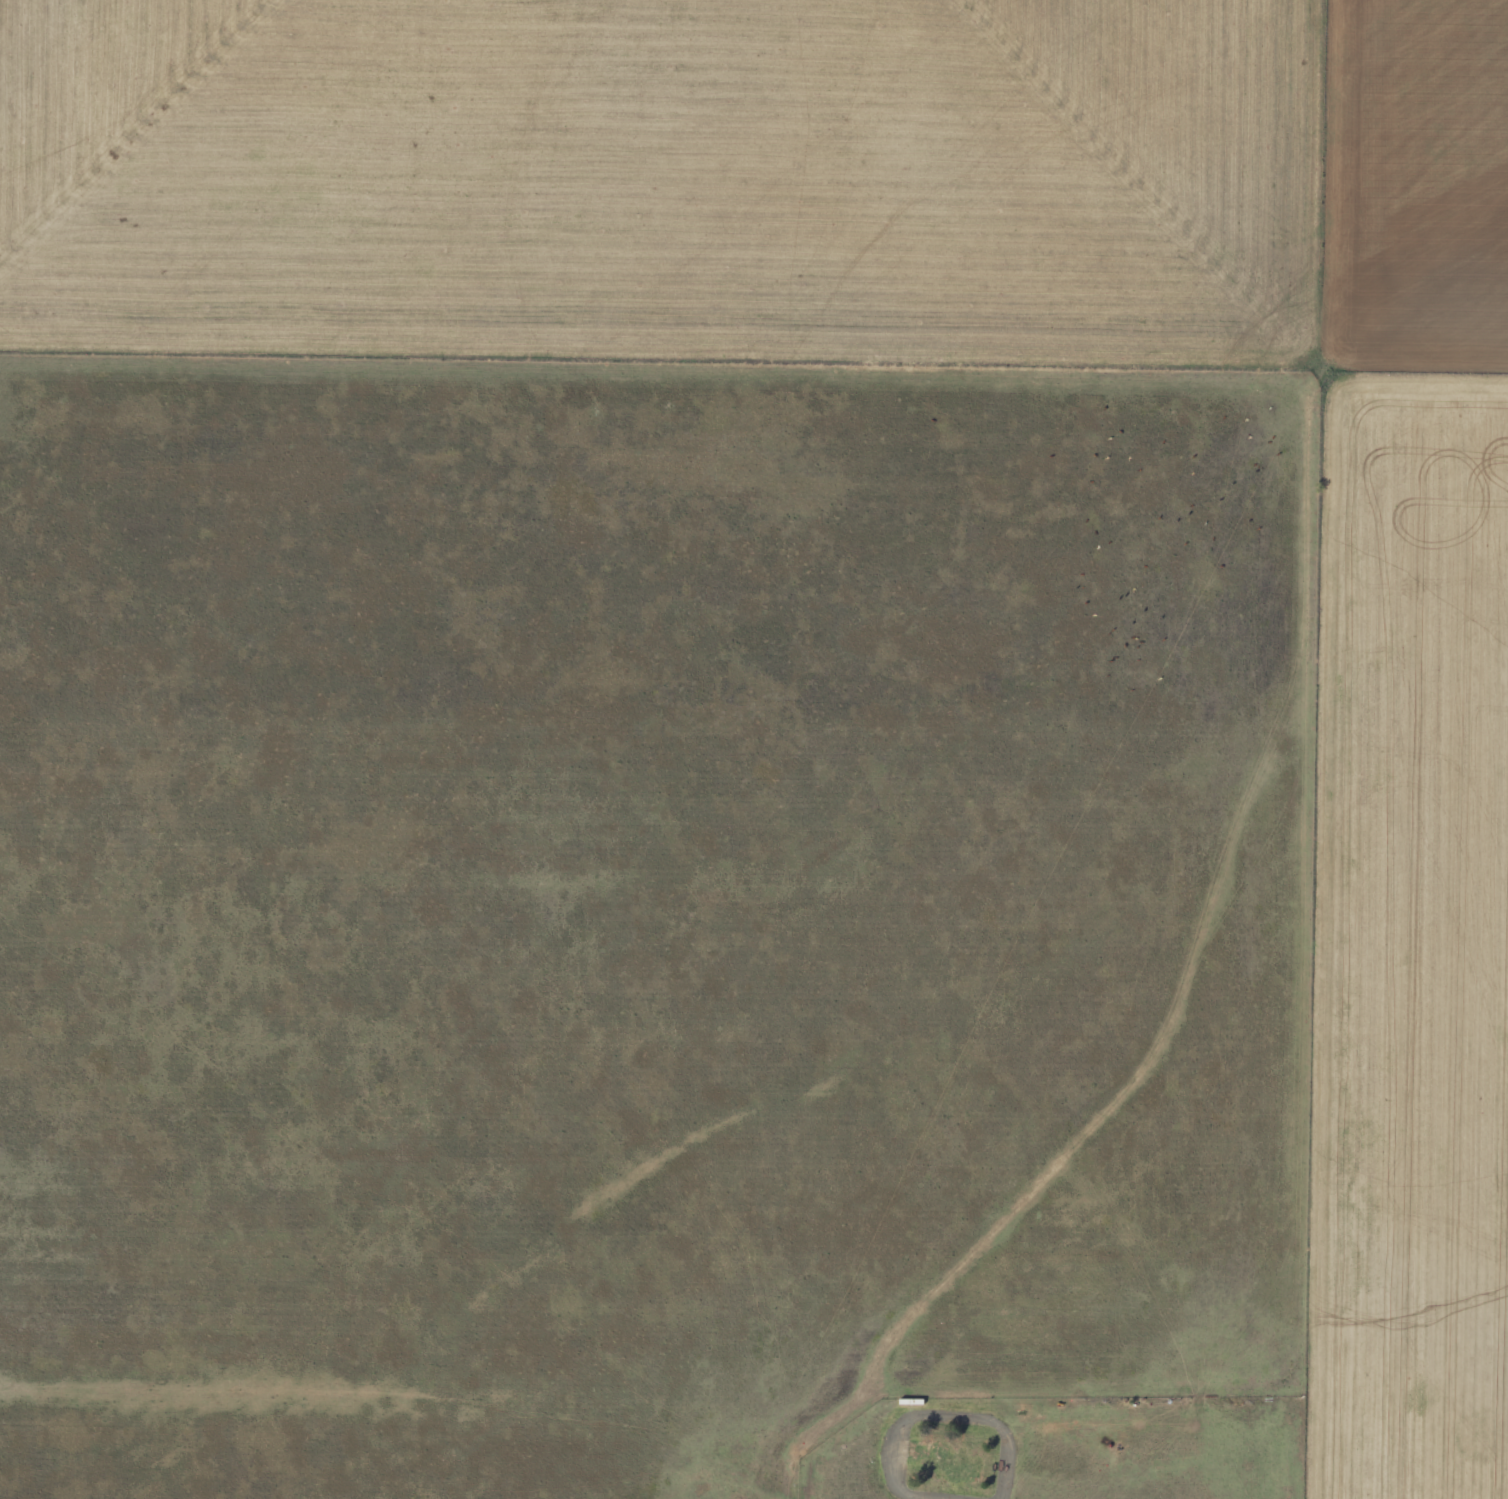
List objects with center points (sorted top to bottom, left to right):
building: (952, 1466)

